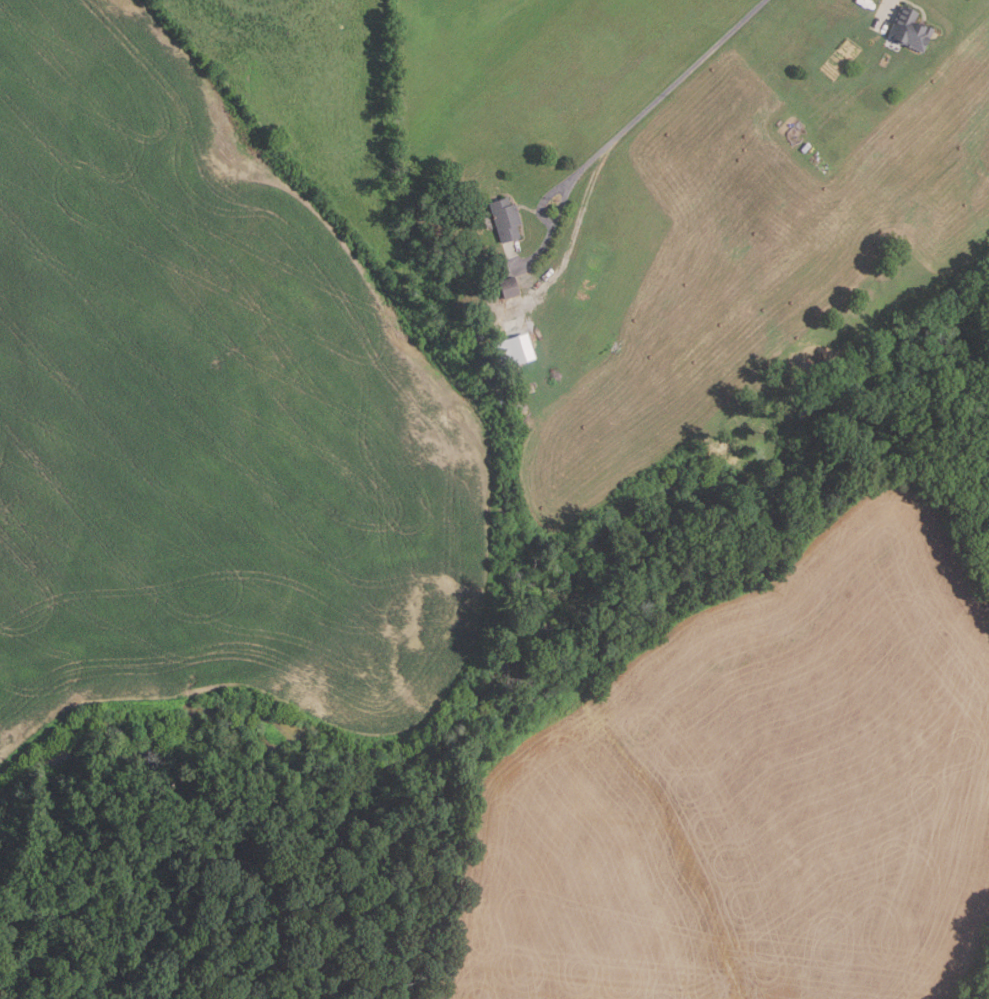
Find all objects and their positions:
road: (888, 3)
building: (906, 30)
road: (666, 91)
building: (507, 219)
road: (545, 219)
building: (510, 287)
building: (518, 350)

